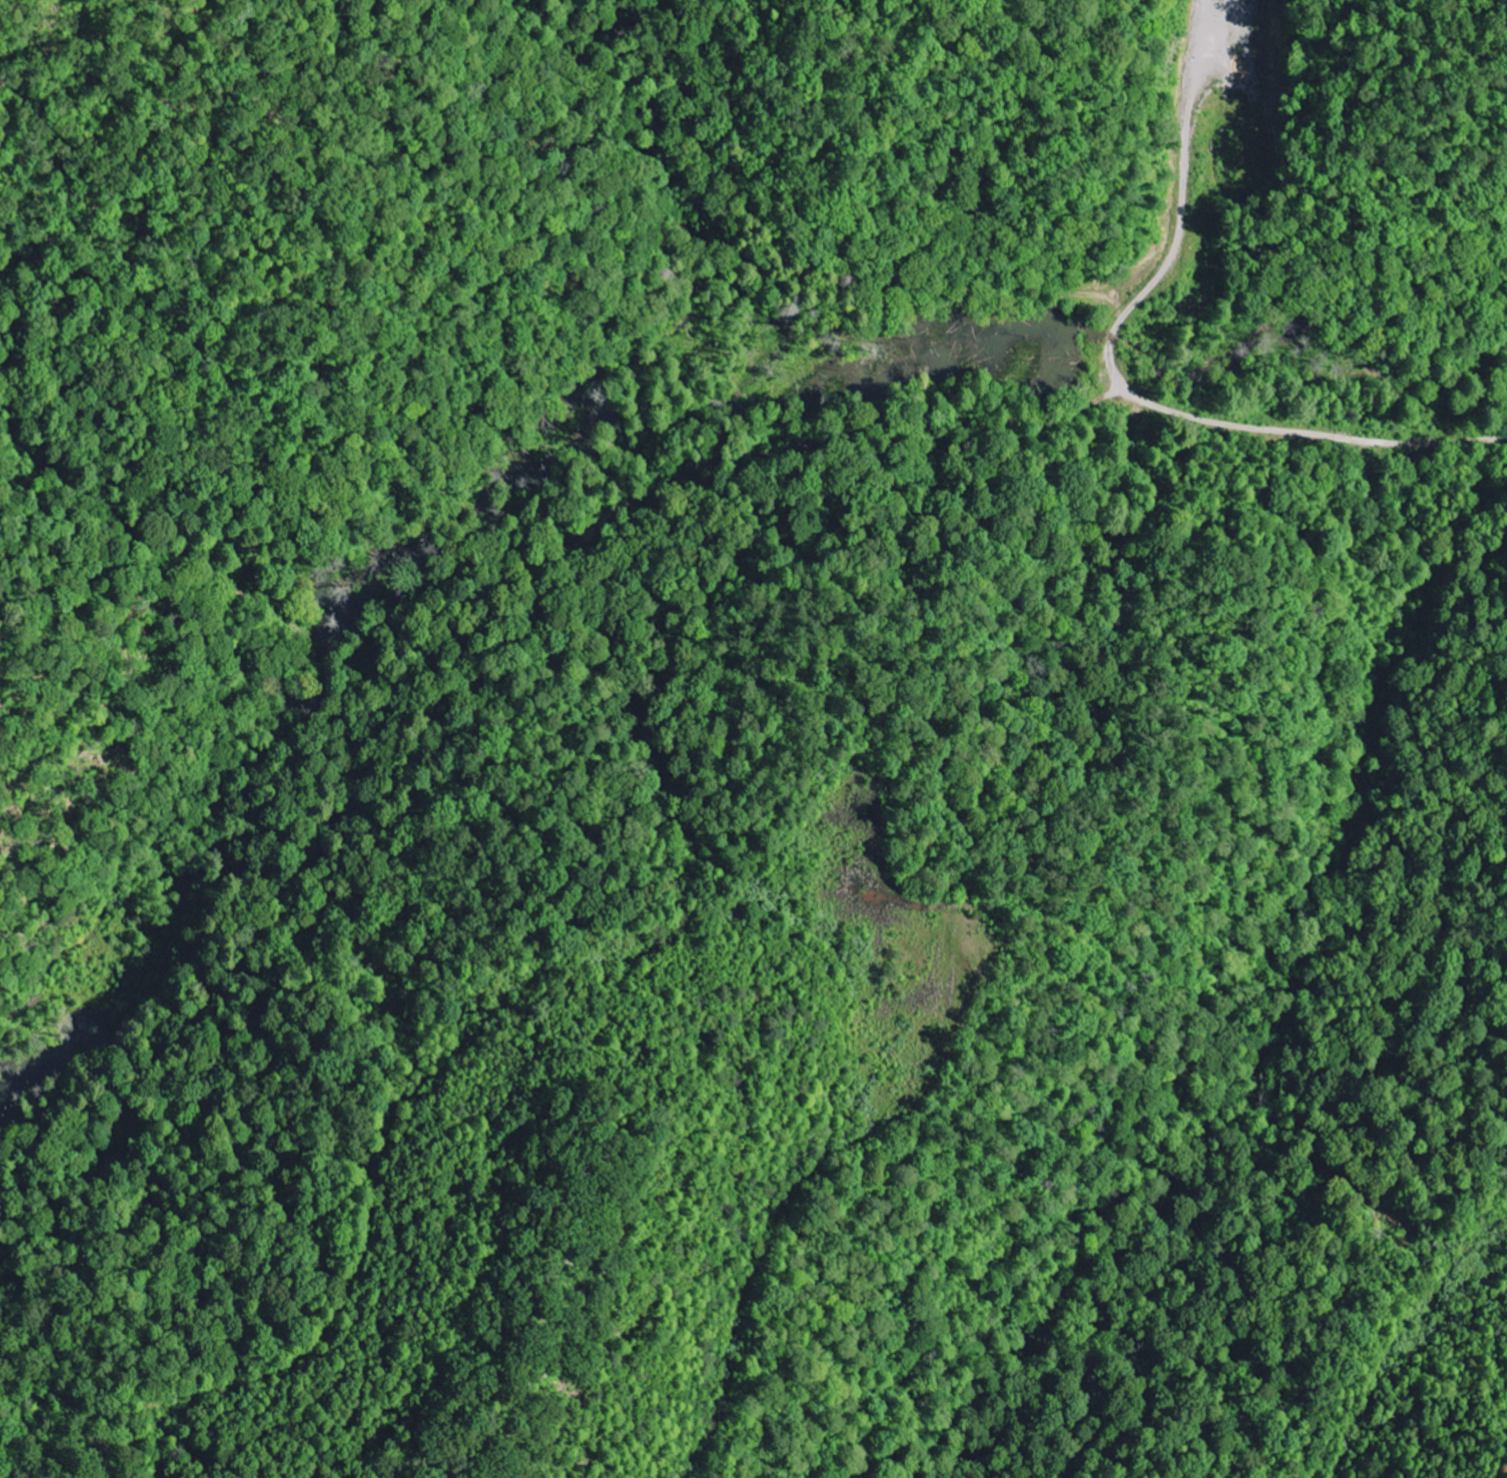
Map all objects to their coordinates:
petroleum well: (1242, 60)

